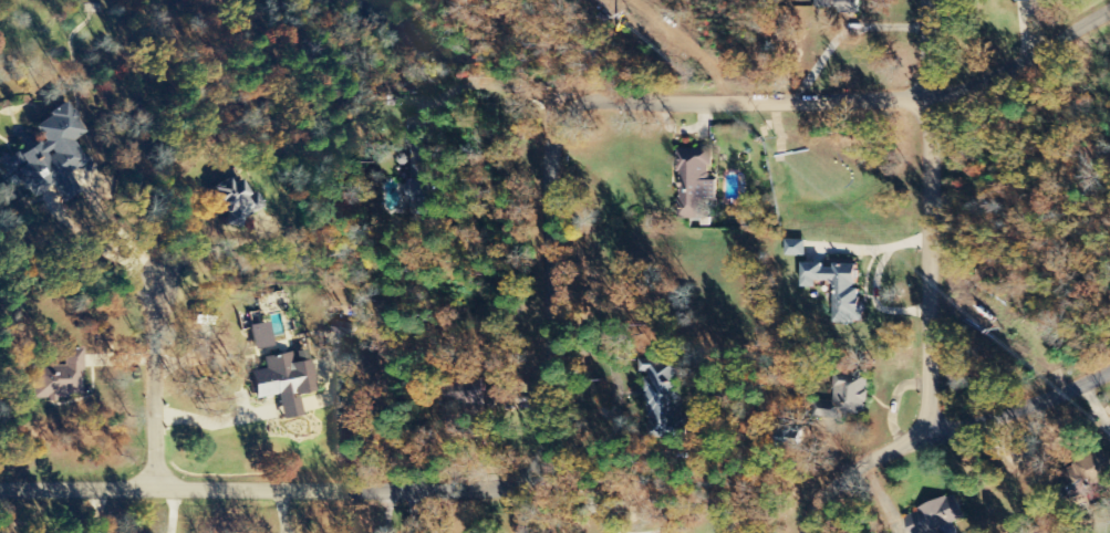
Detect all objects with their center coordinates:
building: (1027, 1)
building: (839, 6)
road: (930, 49)
road: (1023, 63)
building: (51, 156)
building: (418, 177)
building: (696, 182)
building: (234, 201)
building: (796, 248)
building: (837, 289)
building: (259, 336)
road: (931, 343)
building: (58, 378)
road: (551, 384)
road: (157, 386)
building: (853, 393)
building: (465, 394)
building: (664, 405)
road: (1016, 414)
building: (935, 518)

